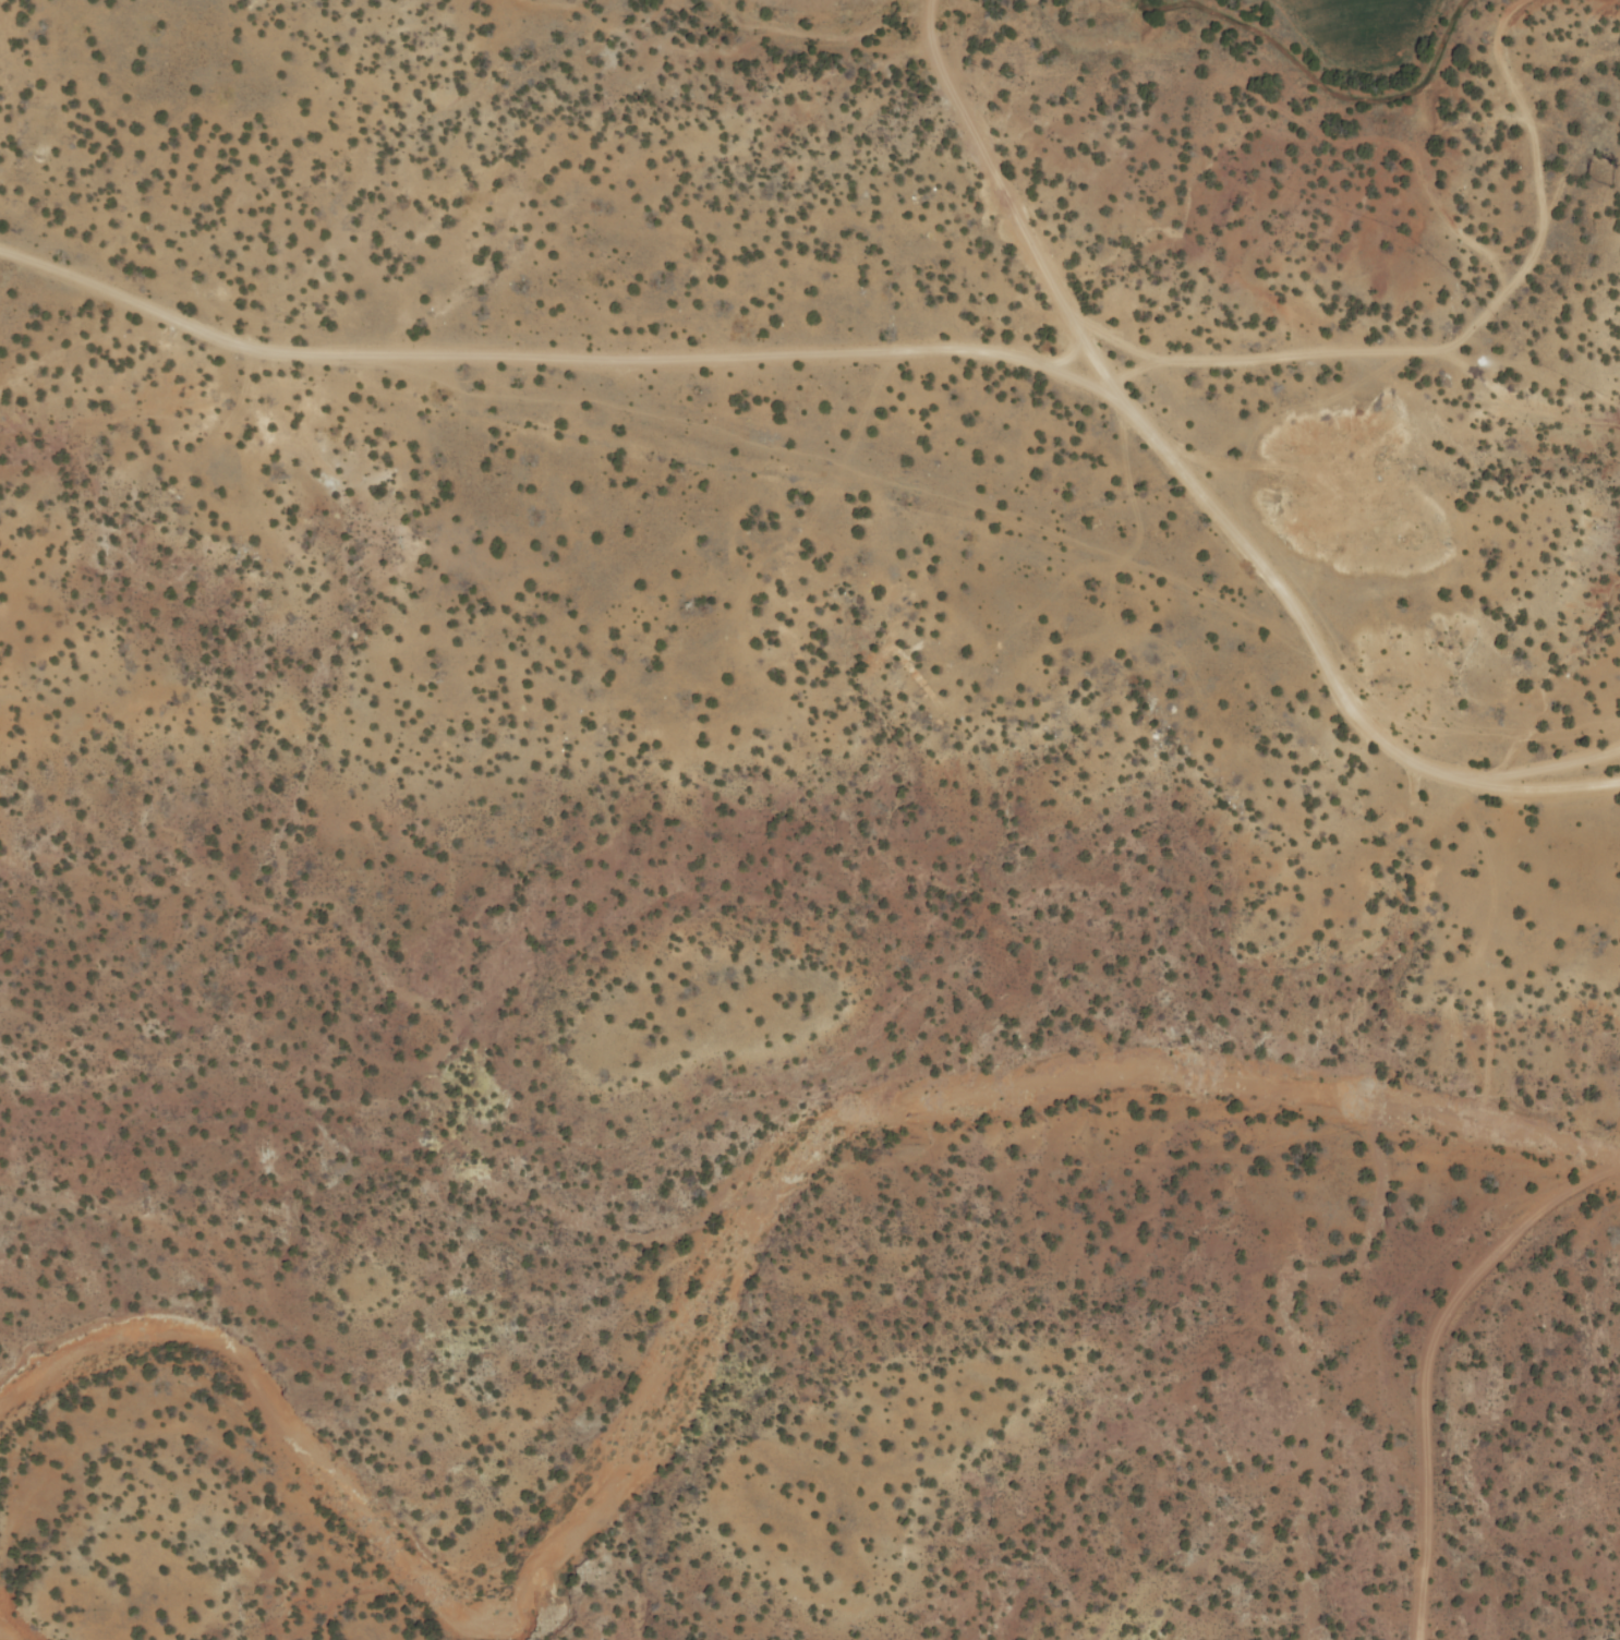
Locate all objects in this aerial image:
road: (516, 310)
road: (1172, 478)
road: (1443, 1348)

